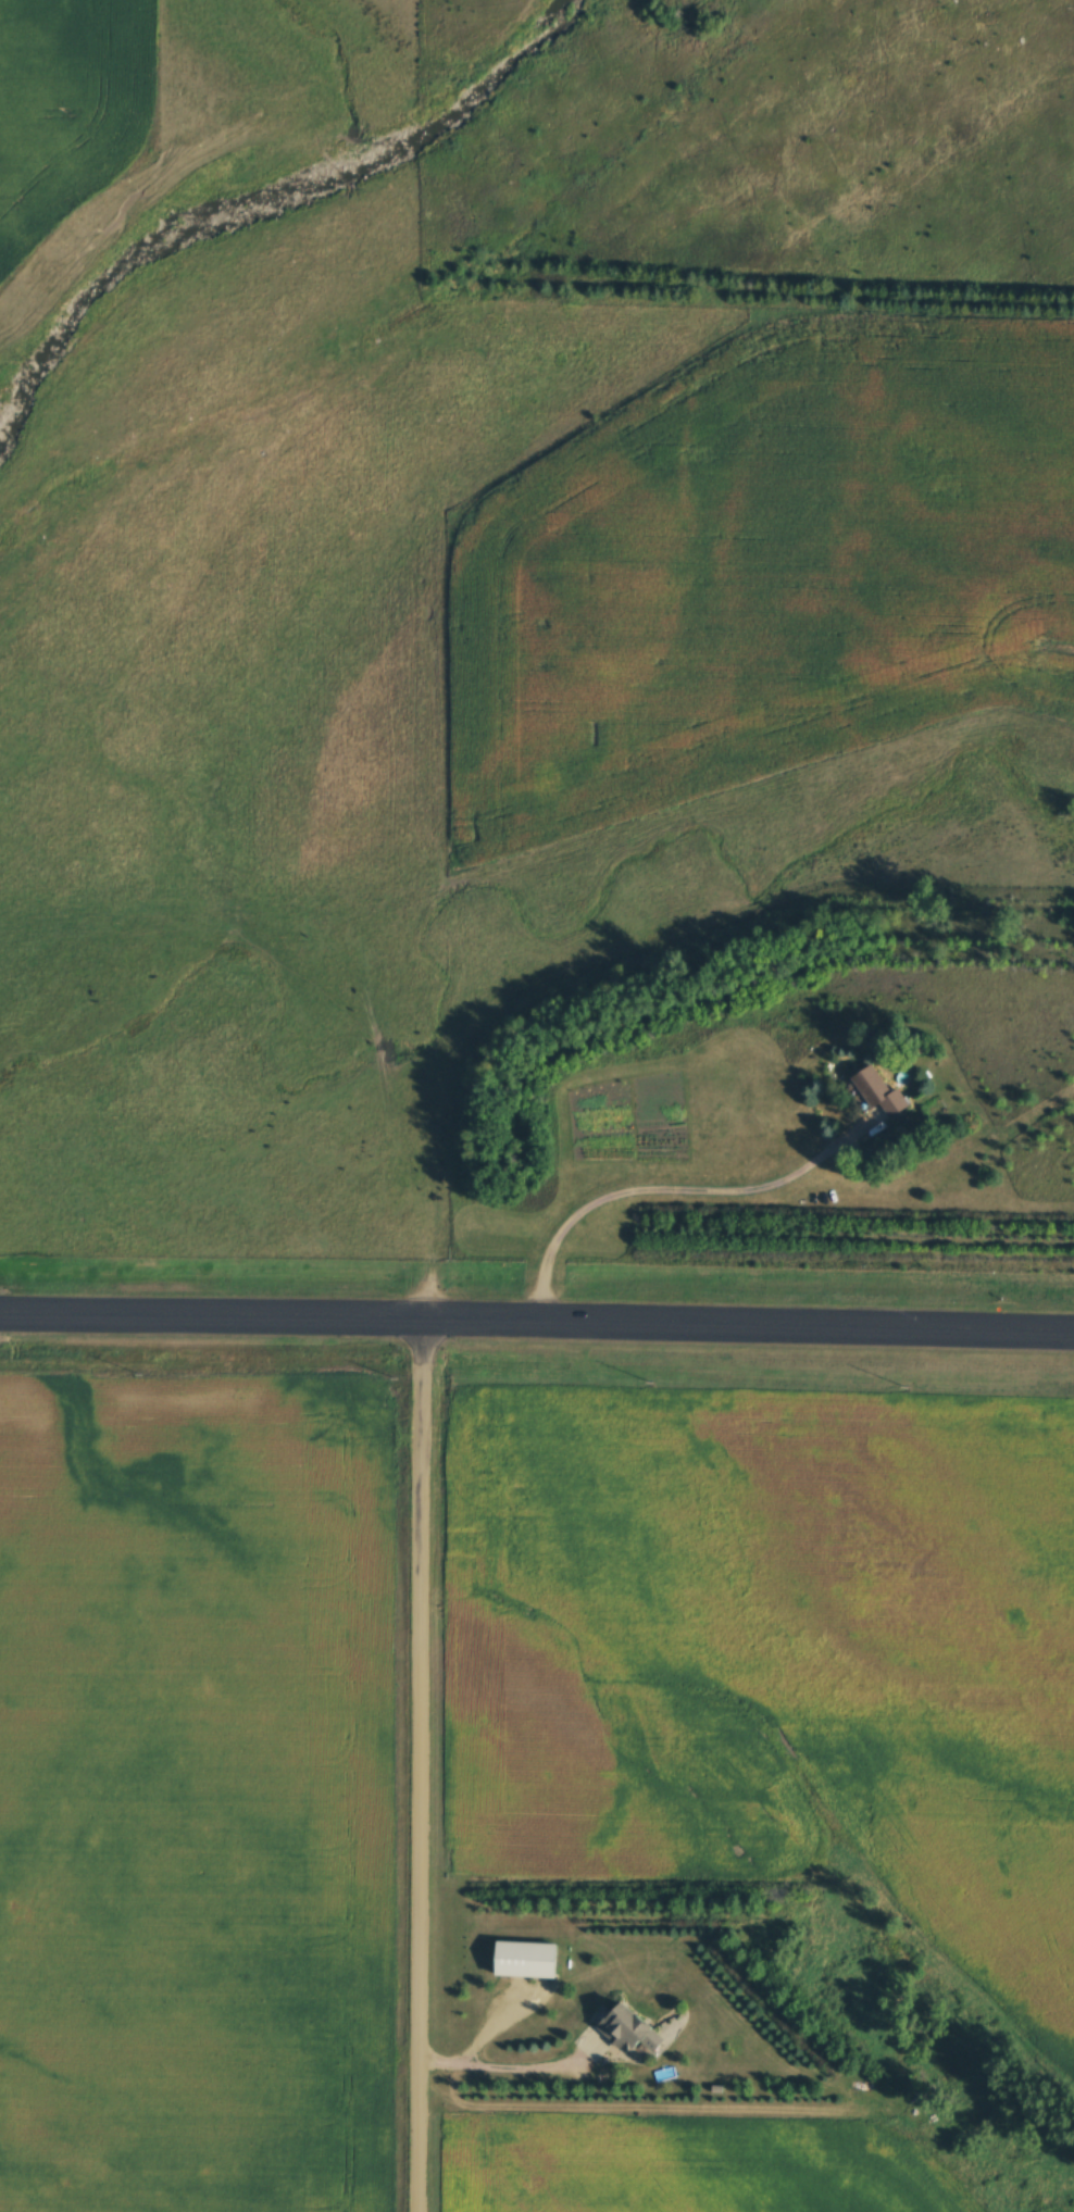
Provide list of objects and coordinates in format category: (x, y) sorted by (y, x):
crop: (764, 566)
building: (883, 1093)
road: (667, 1188)
road: (537, 1321)
road: (419, 1765)
building: (530, 1964)
building: (632, 2028)
road: (509, 2066)

